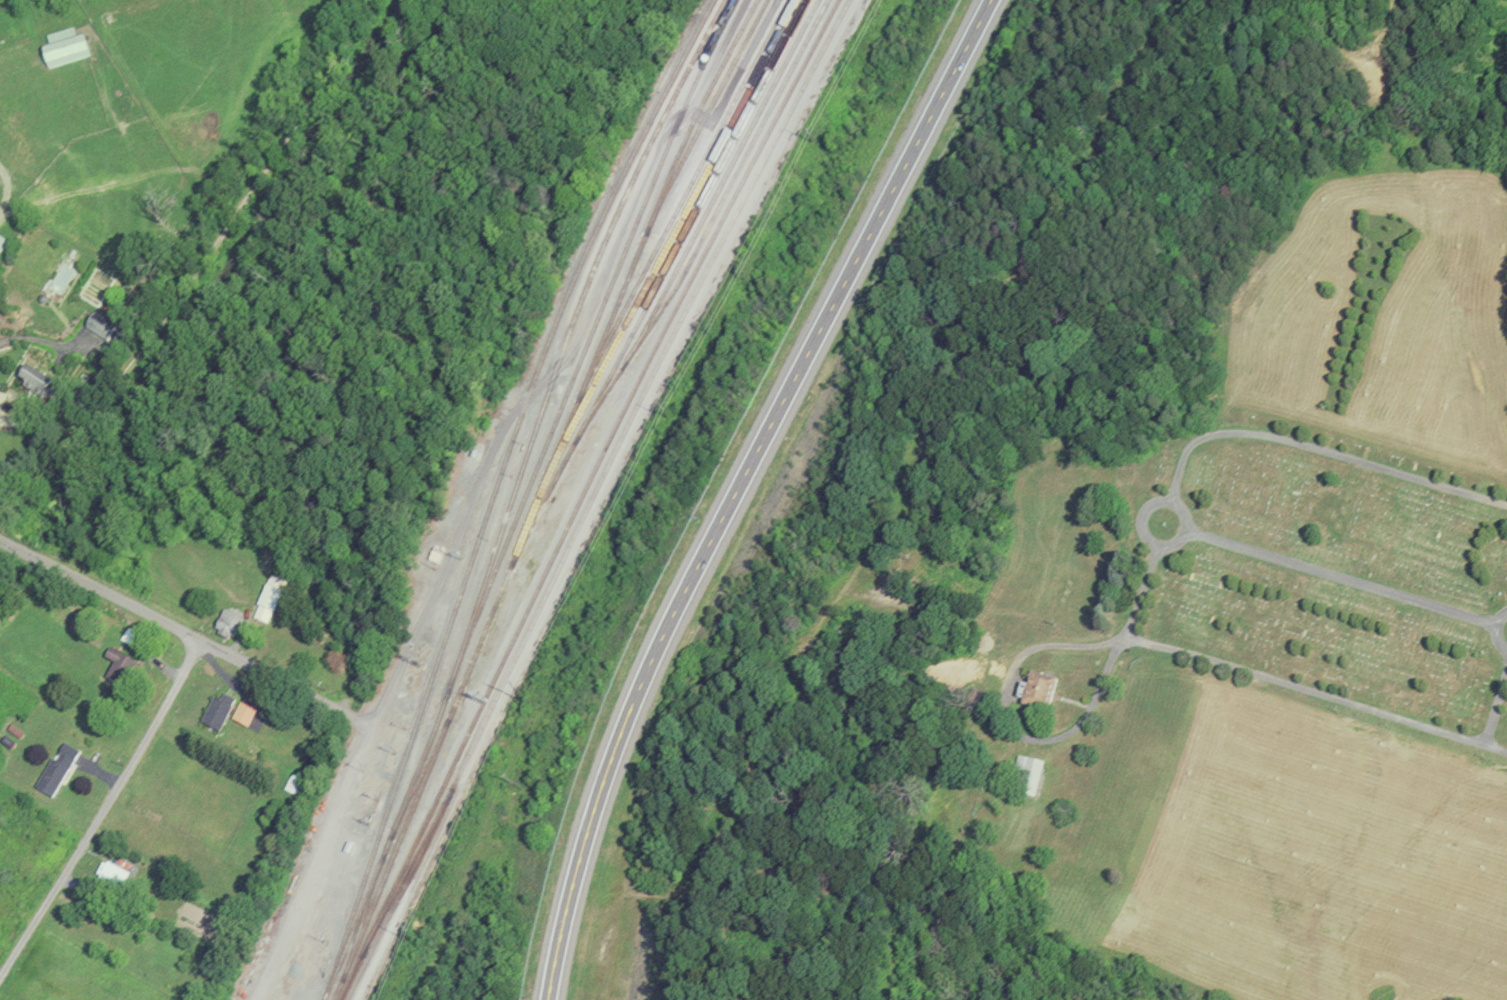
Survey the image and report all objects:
railway: (711, 108)
railway: (725, 177)
railway: (686, 194)
railway: (713, 218)
building: (695, 227)
railway: (648, 230)
road: (862, 246)
road: (199, 271)
railway: (663, 275)
building: (100, 323)
railway: (594, 328)
road: (38, 337)
railway: (646, 390)
road: (1320, 450)
railway: (592, 474)
railway: (542, 489)
railway: (495, 490)
railway: (514, 495)
road: (1170, 501)
park: (1264, 542)
building: (434, 556)
road: (1342, 578)
building: (270, 591)
road: (1138, 596)
building: (225, 622)
road: (174, 628)
road: (1496, 632)
building: (129, 634)
building: (113, 661)
railway: (477, 673)
building: (1035, 688)
road: (1313, 692)
road: (1496, 710)
building: (216, 711)
building: (243, 714)
road: (1008, 724)
road: (618, 738)
building: (56, 768)
building: (1025, 775)
railway: (420, 778)
building: (295, 784)
road: (103, 812)
building: (111, 872)
railway: (407, 872)
railway: (402, 893)
railway: (362, 921)
railway: (350, 978)

